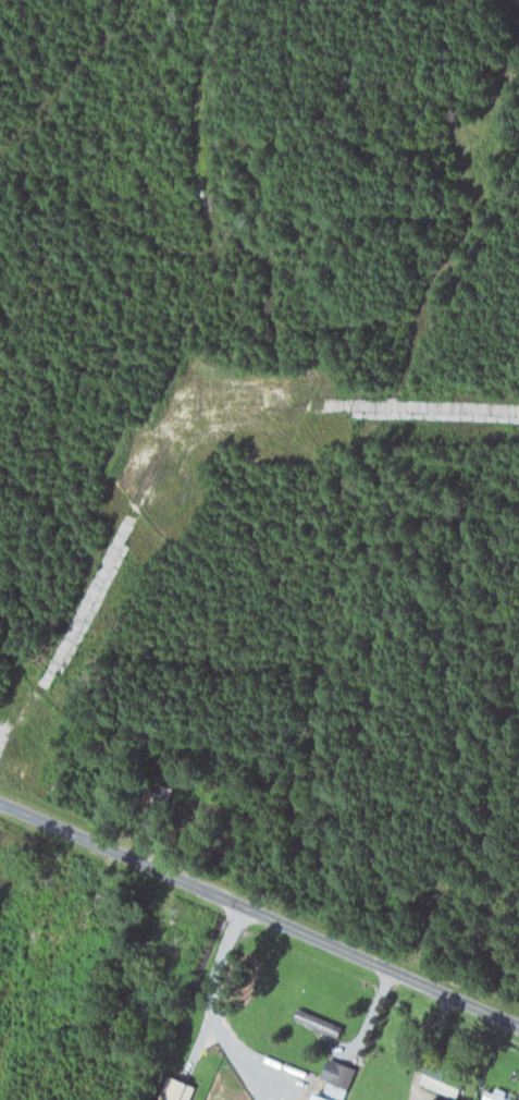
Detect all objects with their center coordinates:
road: (260, 908)
building: (331, 1079)
building: (437, 1079)
building: (174, 1089)
building: (492, 1093)

